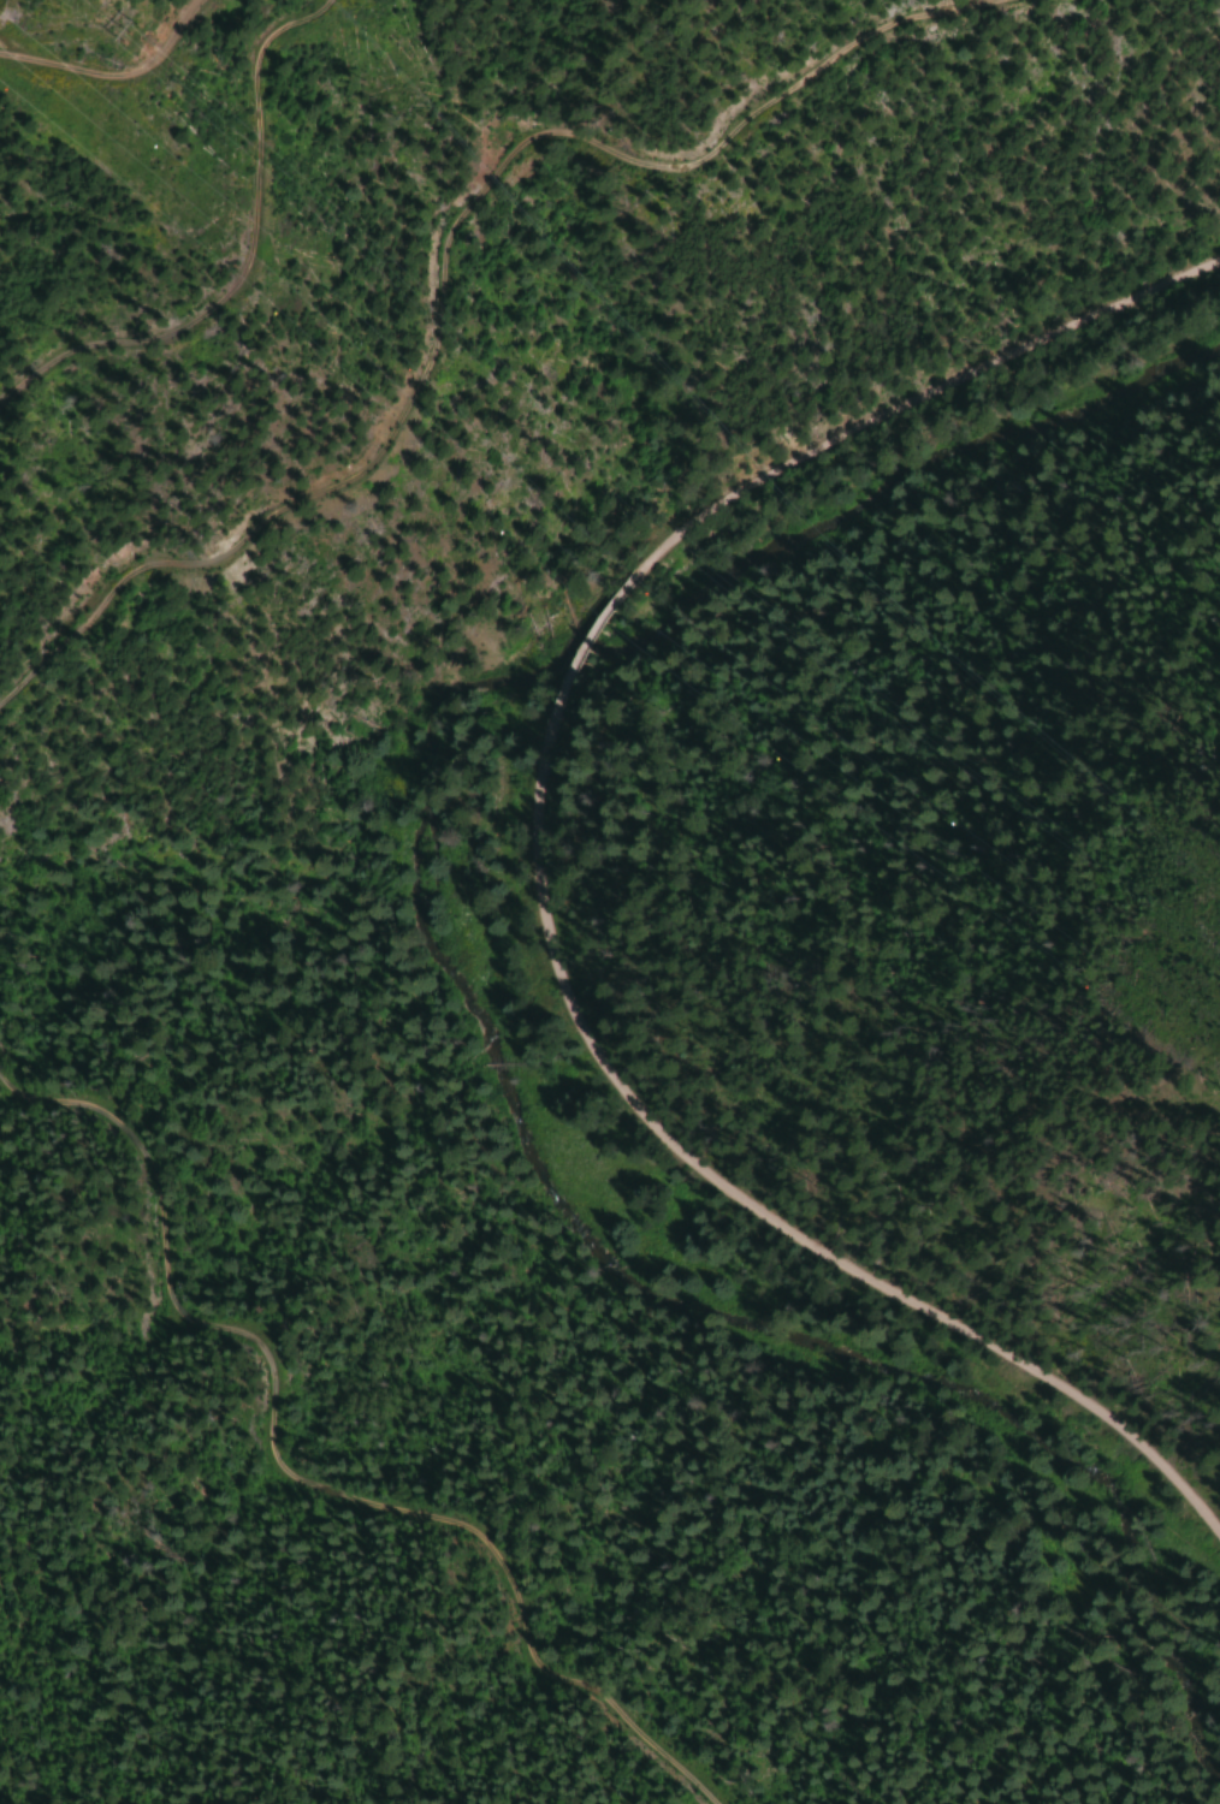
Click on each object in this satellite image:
power tower: (123, 30)
road: (901, 403)
road: (576, 654)
road: (753, 1211)

